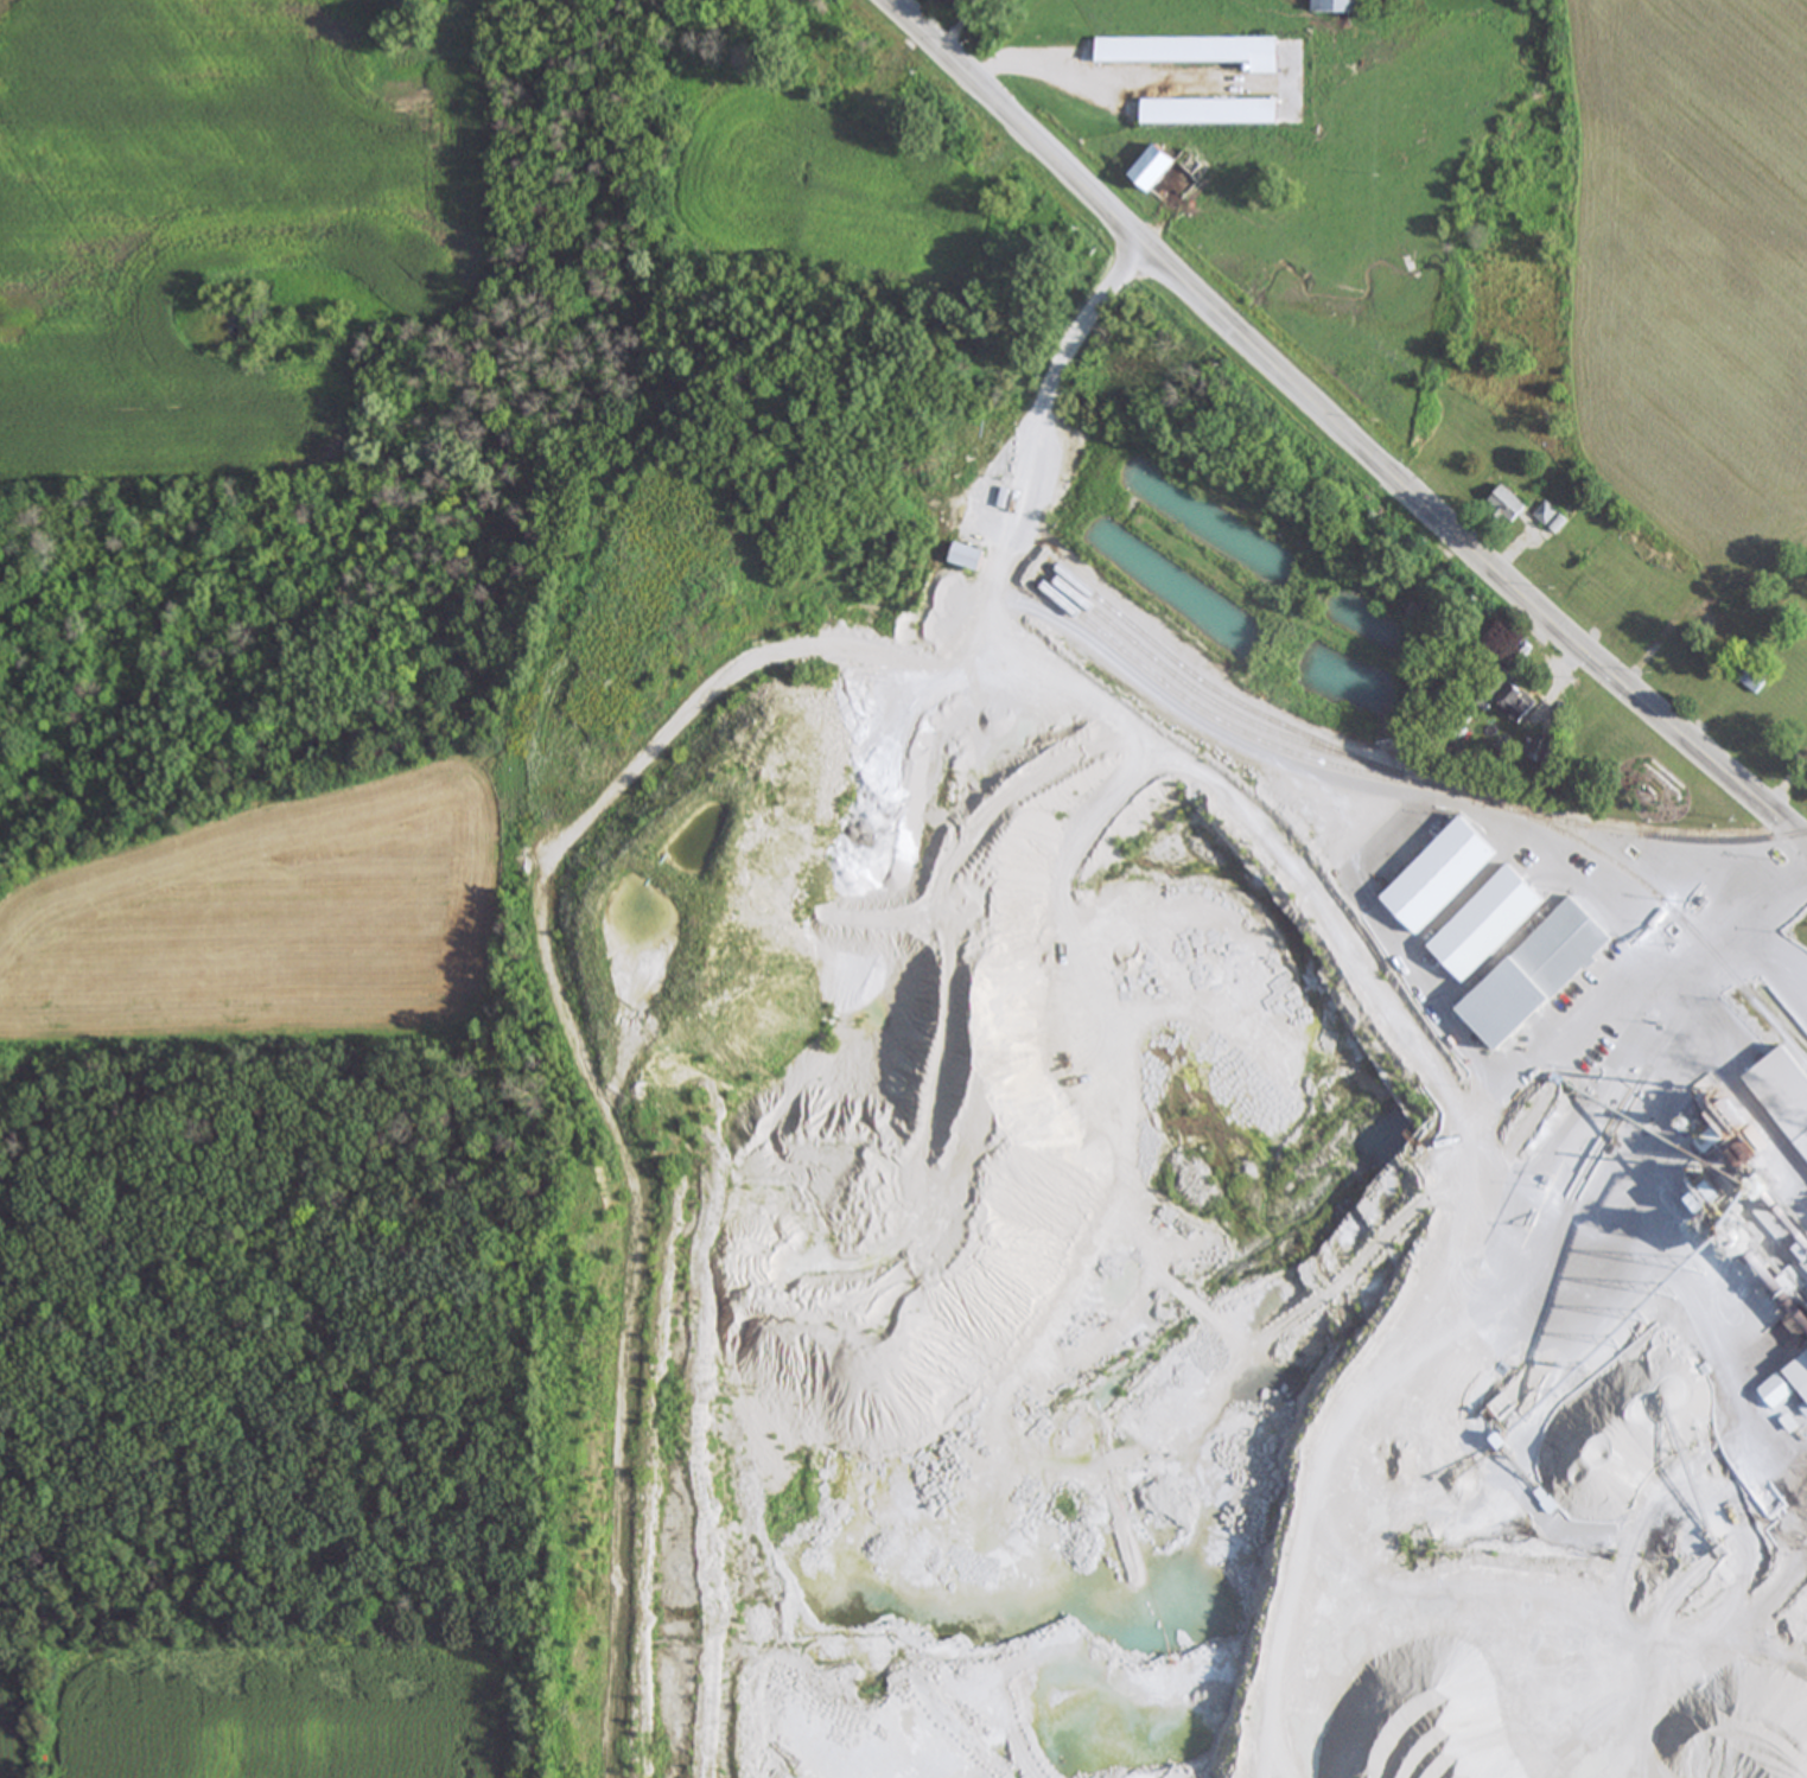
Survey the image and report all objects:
building: (952, 4)
building: (1344, 6)
building: (1200, 52)
road: (904, 68)
building: (1216, 111)
building: (1164, 167)
road: (1092, 319)
road: (1331, 440)
building: (1509, 505)
building: (1552, 518)
building: (967, 559)
building: (1756, 680)
building: (1523, 707)
building: (1545, 752)
road: (1171, 758)
building: (1713, 878)
building: (1483, 919)
road: (1704, 945)
building: (1528, 970)
building: (1784, 1092)
quarry: (1179, 1148)
building: (1805, 1148)
quarry: (1165, 1188)
building: (1802, 1375)
building: (1781, 1394)

